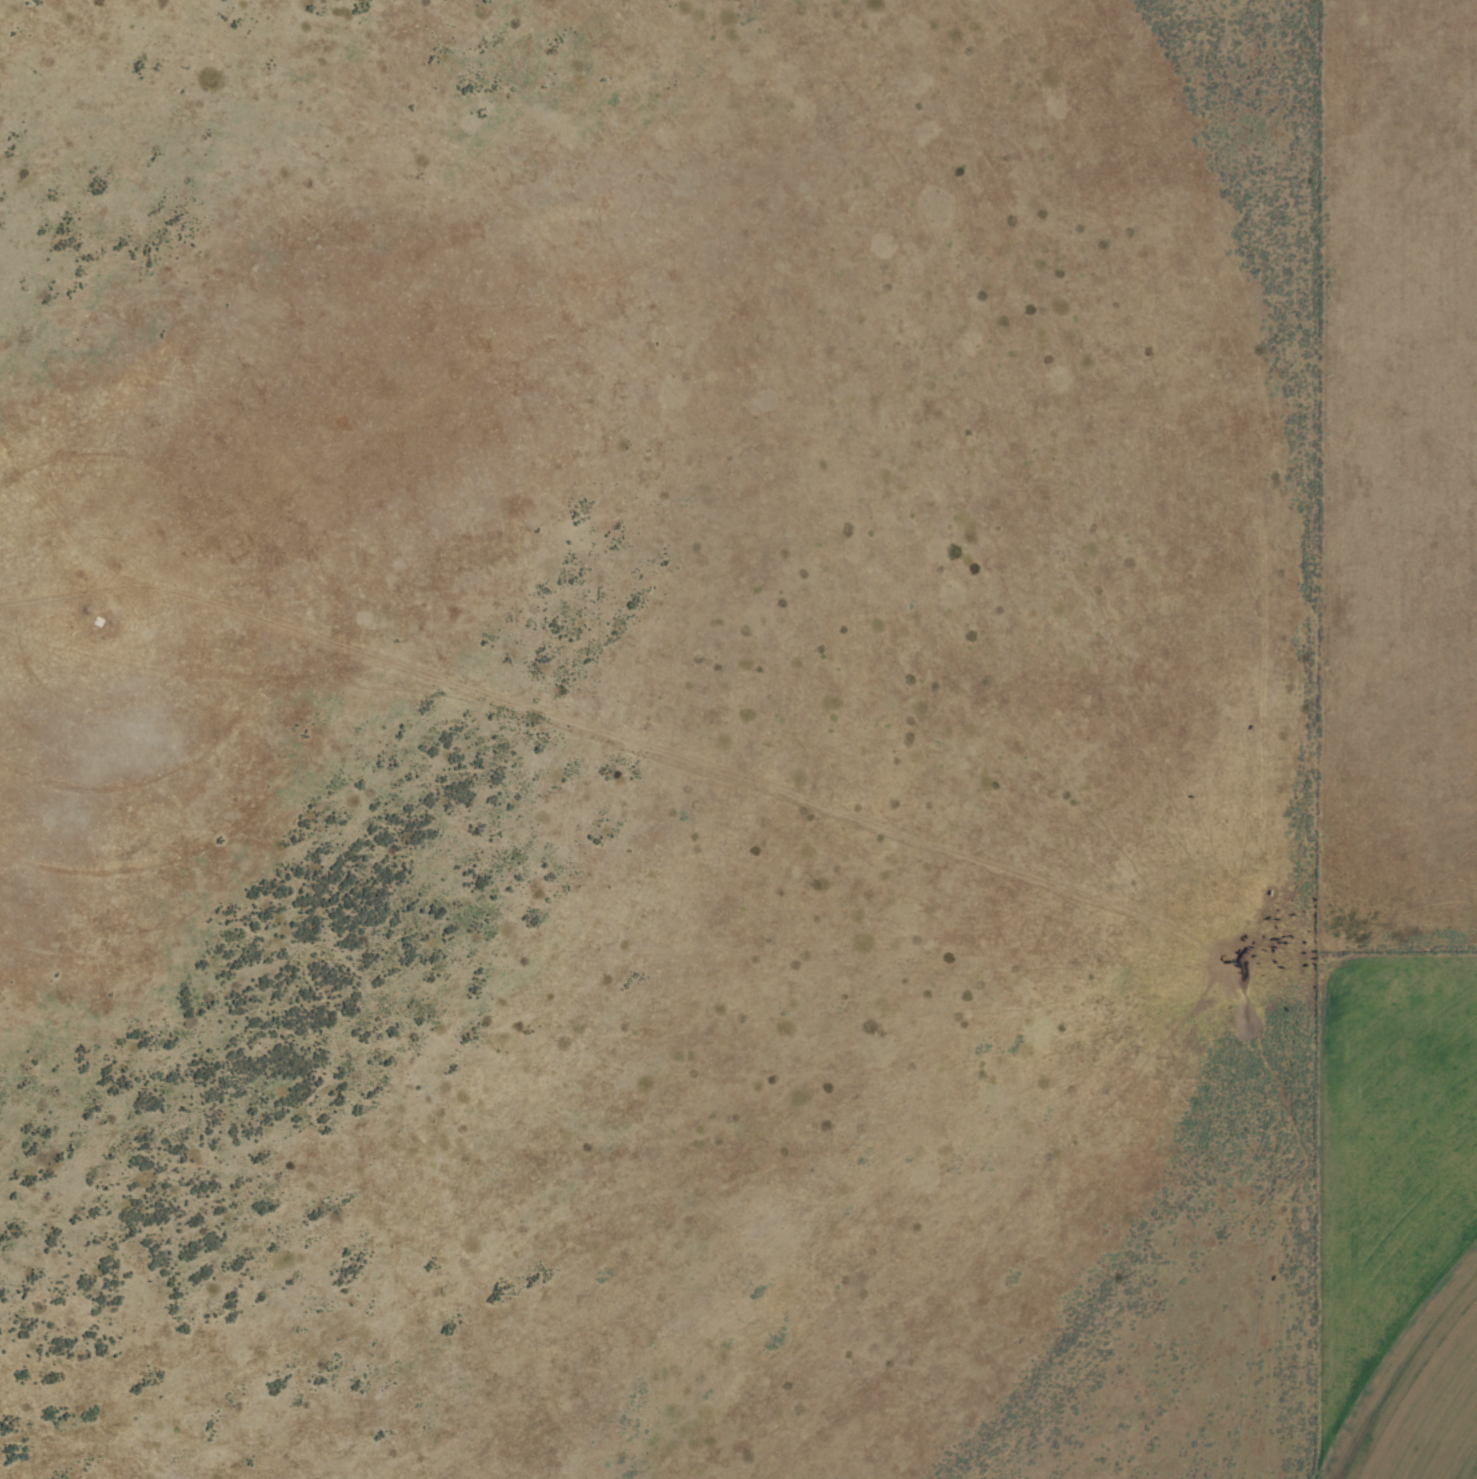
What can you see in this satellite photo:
road: (310, 259)
road: (754, 713)
crop: (709, 717)
road: (1300, 739)

